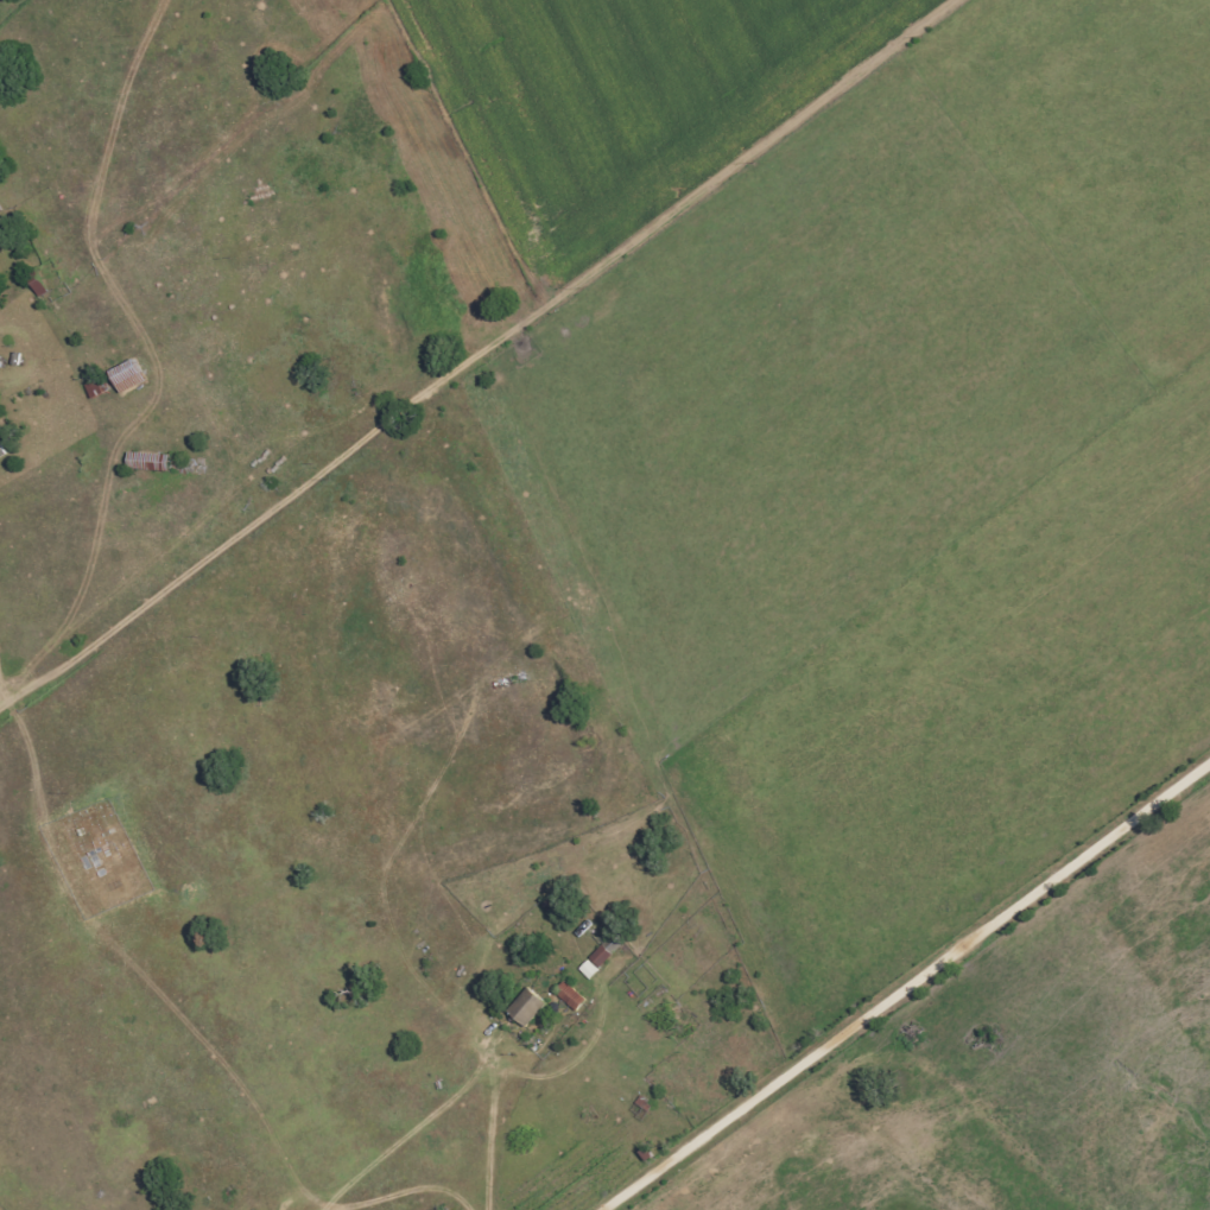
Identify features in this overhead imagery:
road: (484, 349)
building: (126, 376)
building: (0, 452)
park: (103, 854)
building: (600, 956)
road: (425, 968)
road: (902, 987)
building: (570, 996)
building: (526, 1008)

